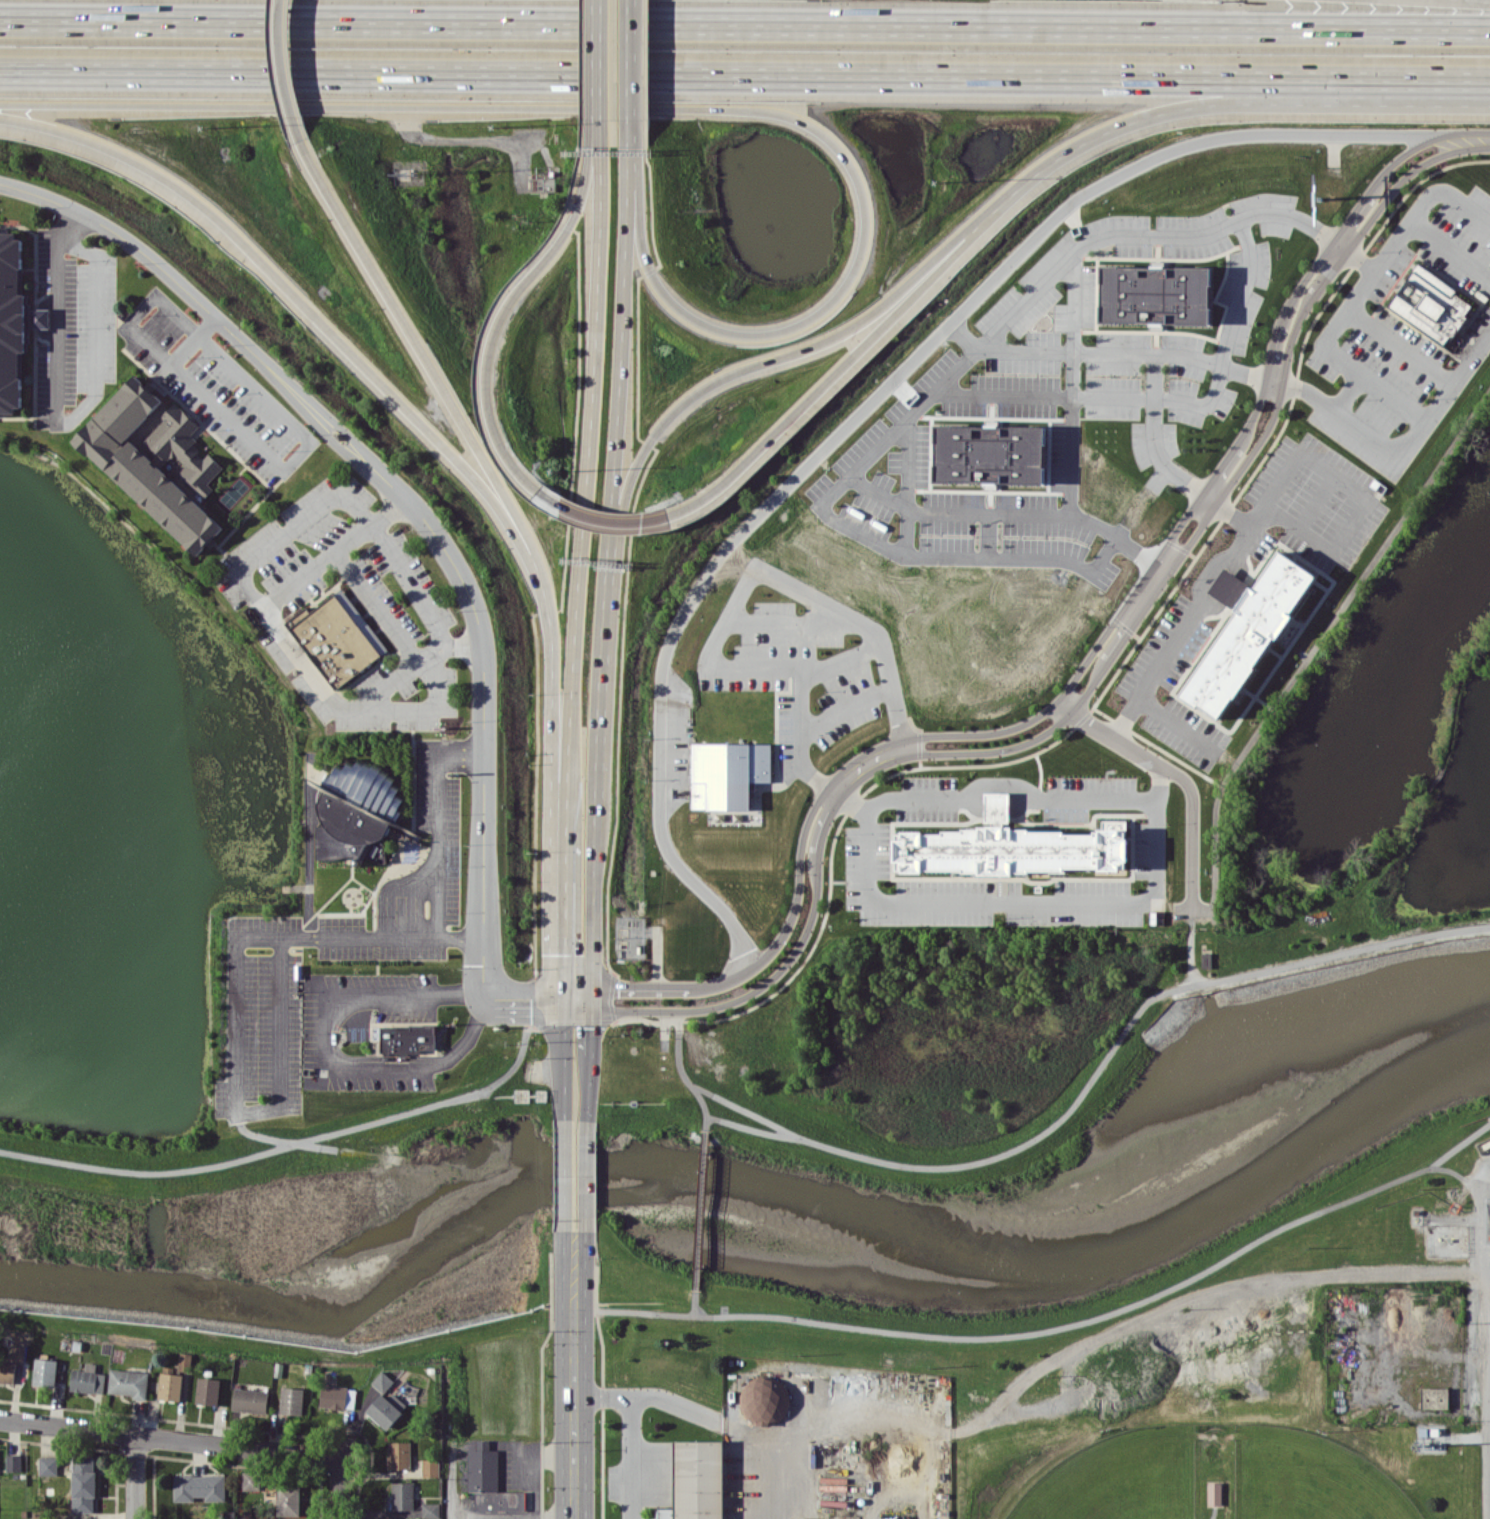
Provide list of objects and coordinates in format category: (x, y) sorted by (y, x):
road: (1488, 0)
road: (744, 23)
road: (598, 70)
road: (283, 71)
road: (630, 72)
road: (681, 74)
road: (1426, 79)
road: (668, 107)
road: (1173, 107)
street lamp: (504, 125)
road: (469, 139)
road: (1470, 142)
road: (630, 157)
road: (1407, 160)
building: (542, 184)
road: (1421, 198)
road: (1449, 245)
road: (1072, 283)
building: (1155, 294)
building: (1431, 304)
road: (305, 306)
road: (502, 311)
building: (11, 316)
road: (1329, 326)
road: (990, 333)
road: (1398, 344)
road: (427, 361)
road: (757, 361)
road: (844, 364)
road: (1184, 364)
road: (1248, 376)
road: (1215, 380)
road: (620, 384)
road: (1002, 395)
road: (1391, 397)
road: (867, 404)
road: (61, 423)
road: (1071, 435)
road: (1402, 453)
building: (989, 454)
road: (269, 458)
building: (159, 463)
road: (1355, 490)
road: (878, 491)
road: (582, 506)
road: (943, 513)
road: (601, 519)
road: (428, 527)
road: (906, 534)
road: (989, 536)
road: (331, 551)
road: (911, 556)
road: (234, 576)
building: (1229, 587)
road: (374, 604)
road: (1194, 608)
road: (814, 613)
road: (728, 618)
road: (763, 622)
building: (1249, 634)
building: (333, 639)
road: (1319, 641)
road: (414, 659)
road: (841, 659)
road: (602, 698)
road: (1456, 701)
road: (841, 708)
road: (1055, 719)
road: (550, 729)
building: (728, 773)
road: (1183, 778)
road: (1433, 781)
road: (1008, 782)
park: (1331, 789)
building: (359, 802)
road: (435, 822)
flagpole: (391, 857)
flagpole: (389, 864)
road: (1381, 865)
road: (595, 900)
road: (1011, 903)
road: (1190, 909)
road: (563, 938)
road: (1190, 947)
building: (1208, 955)
road: (365, 993)
traffic signals: (563, 1003)
road: (577, 1003)
traffic signals: (592, 1004)
road: (237, 1008)
parking lot: (262, 1019)
road: (588, 1025)
building: (406, 1038)
road: (568, 1060)
road: (438, 1063)
road: (579, 1082)
road: (702, 1105)
road: (1072, 1105)
road: (298, 1143)
road: (573, 1169)
road: (1489, 1191)
road: (702, 1205)
river: (732, 1206)
road: (1489, 1271)
road: (696, 1301)
road: (1055, 1327)
building: (19, 1352)
park: (1258, 1359)
building: (184, 1361)
road: (573, 1370)
building: (7, 1371)
building: (45, 1372)
building: (88, 1379)
building: (382, 1381)
building: (128, 1383)
building: (170, 1386)
building: (208, 1390)
building: (1435, 1395)
building: (337, 1397)
building: (250, 1400)
building: (292, 1400)
building: (764, 1400)
building: (386, 1409)
park: (1230, 1417)
road: (730, 1426)
road: (633, 1427)
road: (1488, 1427)
road: (169, 1438)
building: (399, 1455)
building: (14, 1462)
building: (48, 1465)
building: (430, 1467)
road: (134, 1476)
park: (1311, 1477)
park: (1118, 1478)
road: (451, 1479)
building: (251, 1480)
building: (490, 1481)
building: (698, 1481)
building: (83, 1483)
building: (199, 1487)
road: (339, 1488)
building: (1214, 1493)
building: (402, 1495)
building: (288, 1500)
building: (431, 1510)
road: (512, 1515)
building: (800, 1518)

